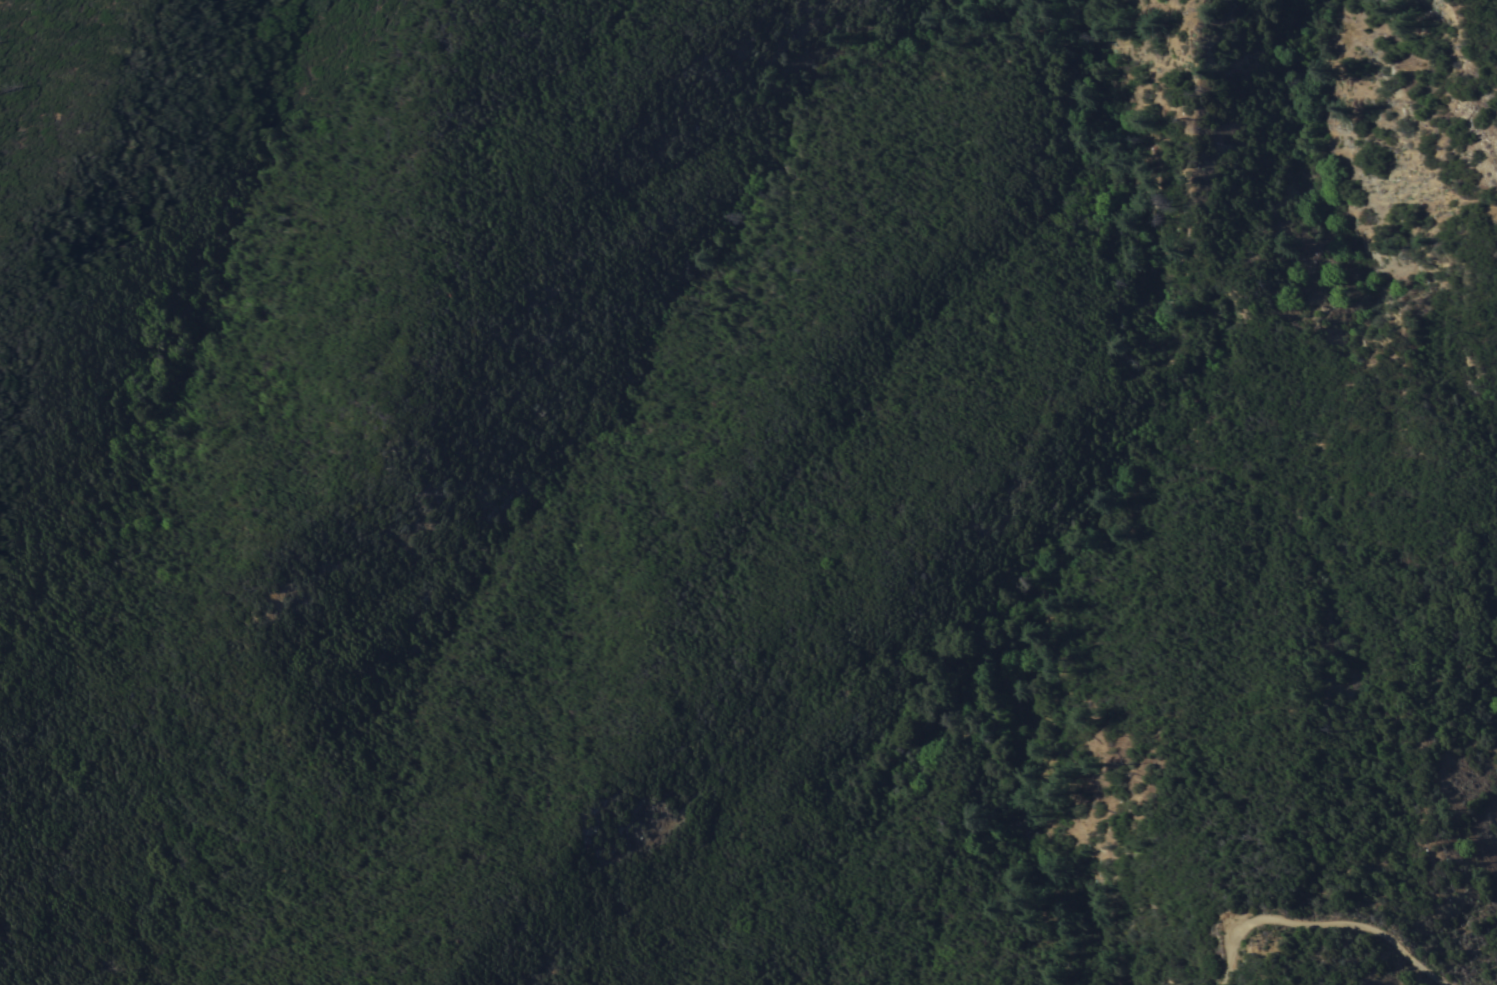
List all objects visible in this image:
road: (1327, 922)

